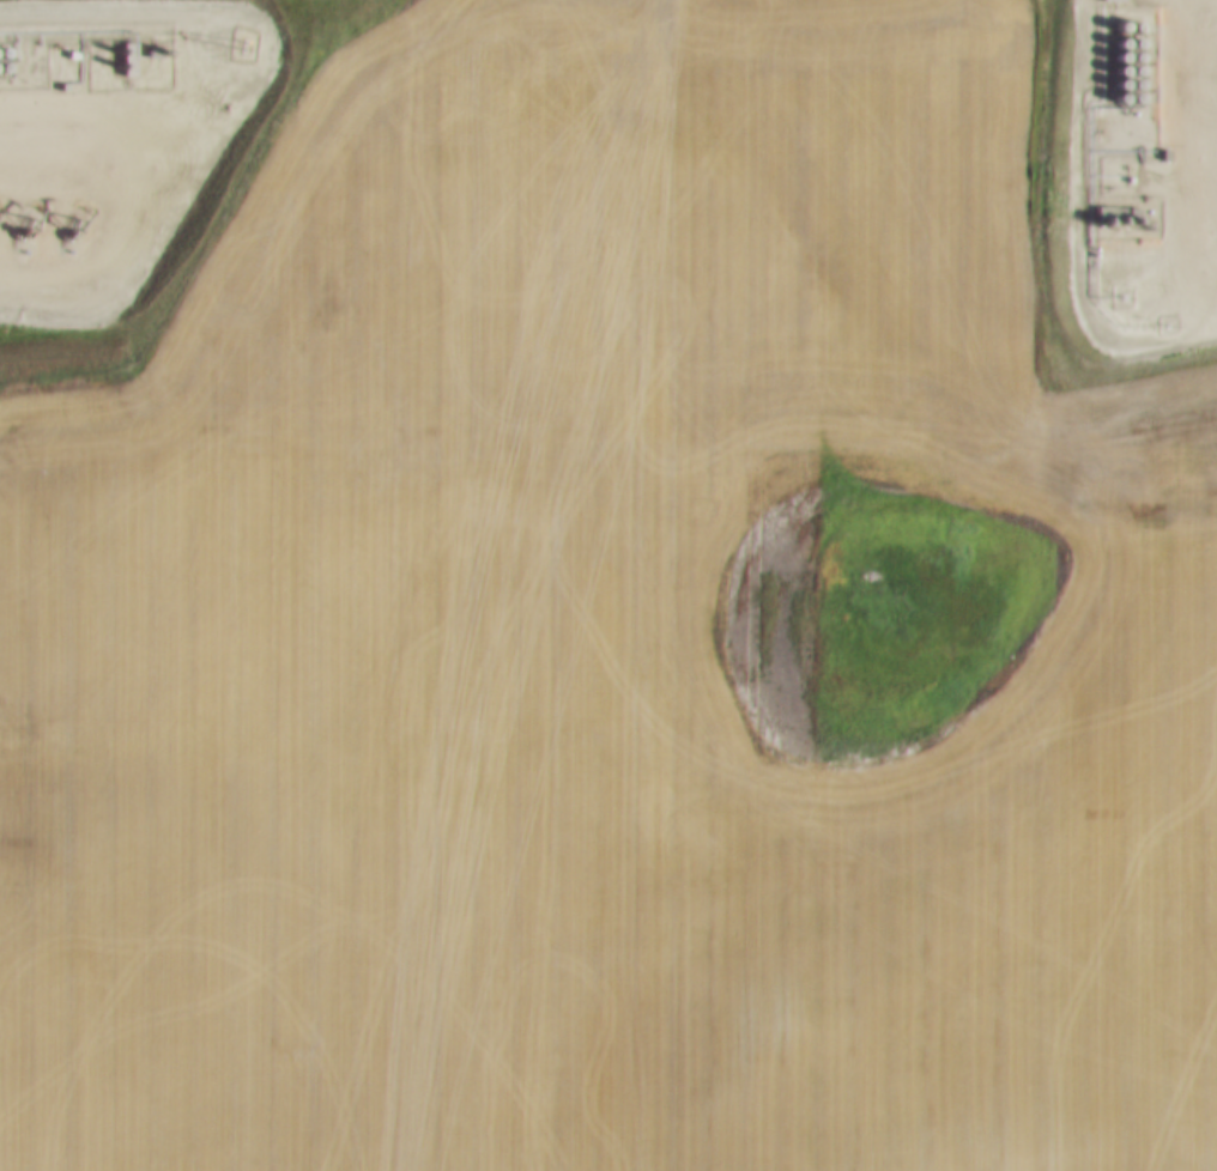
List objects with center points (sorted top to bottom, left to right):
building: (1120, 22)
storage tank: (1120, 22)
building: (1134, 23)
storage tank: (1134, 23)
building: (1120, 40)
storage tank: (1120, 40)
building: (1134, 40)
storage tank: (1134, 40)
building: (4, 49)
storage tank: (4, 49)
building: (1120, 53)
storage tank: (1120, 53)
building: (1134, 53)
storage tank: (1134, 53)
building: (5, 63)
storage tank: (5, 63)
building: (1119, 67)
storage tank: (1119, 67)
building: (1134, 67)
storage tank: (1134, 67)
building: (1120, 80)
storage tank: (1120, 80)
building: (1134, 80)
storage tank: (1134, 80)
building: (1119, 93)
storage tank: (1119, 93)
building: (1133, 95)
storage tank: (1133, 95)

